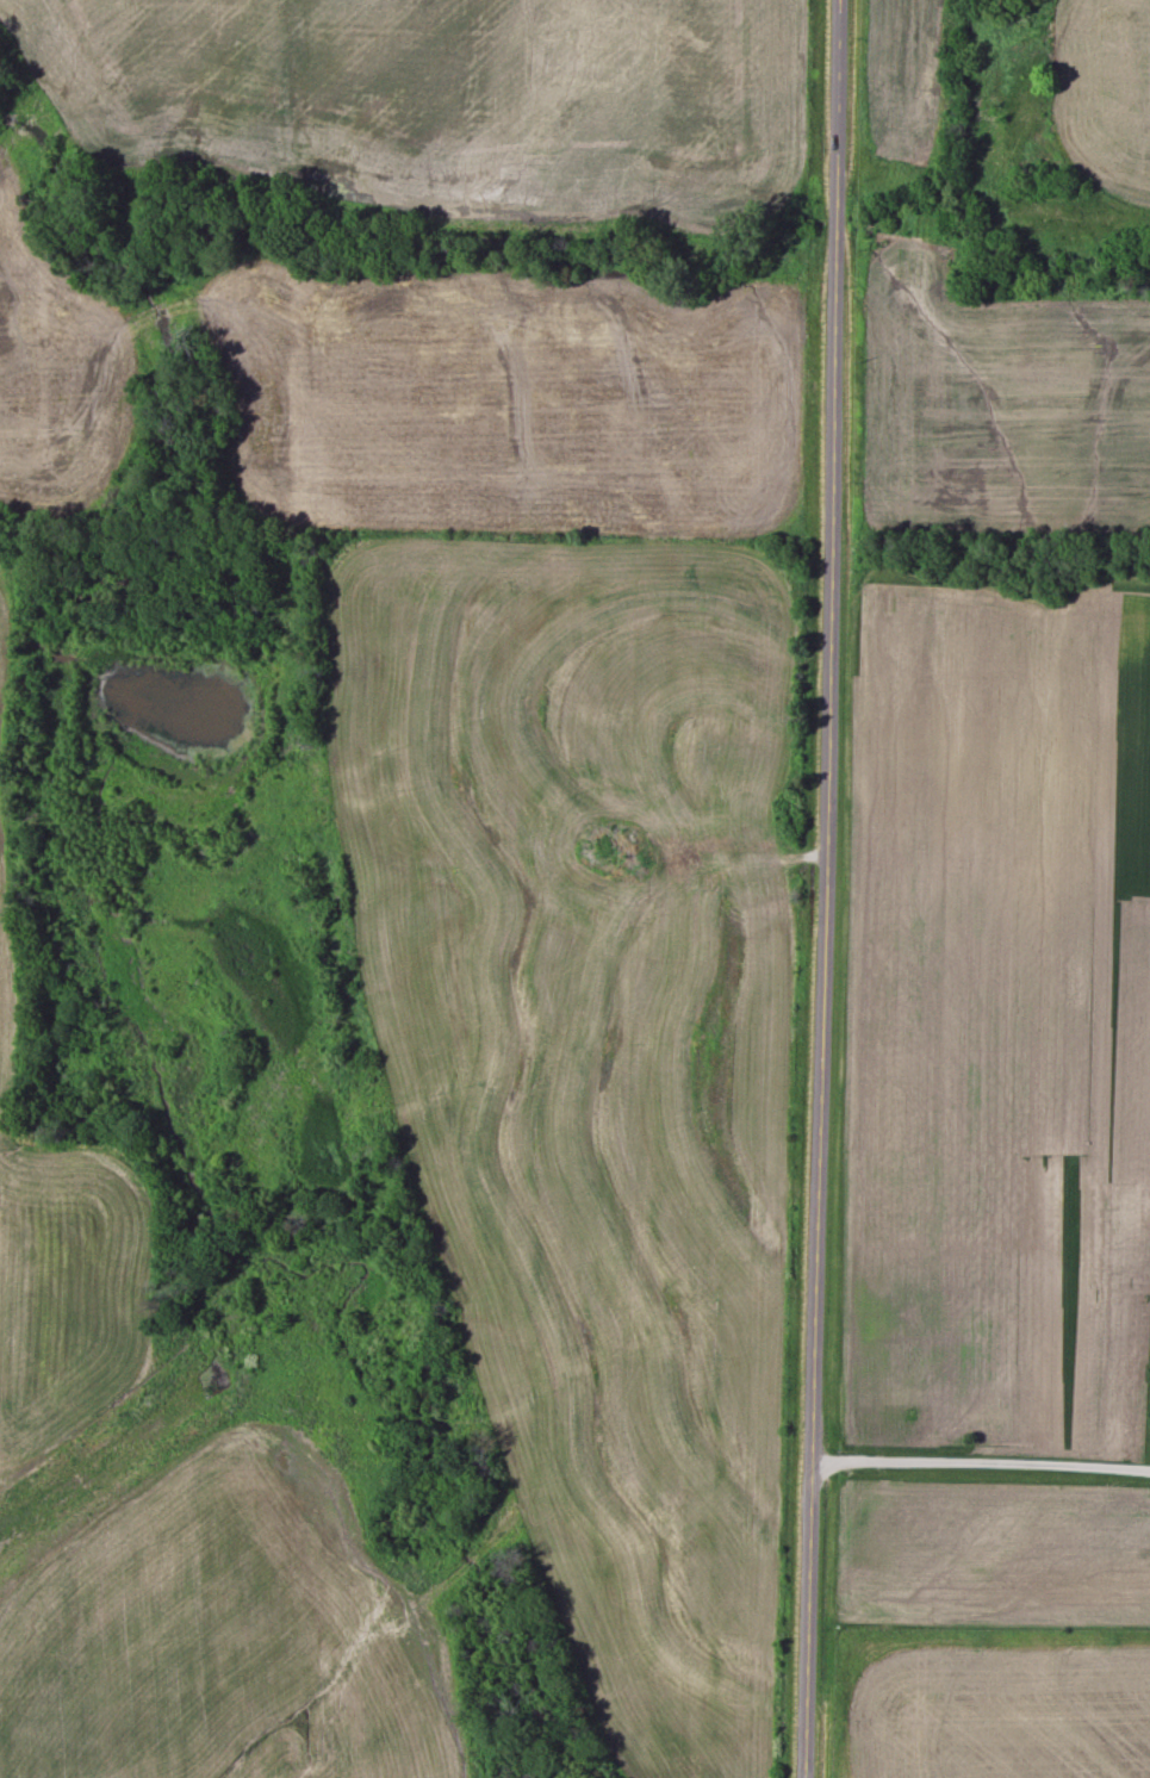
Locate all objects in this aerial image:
building: (601, 850)
road: (821, 888)
road: (982, 1463)

